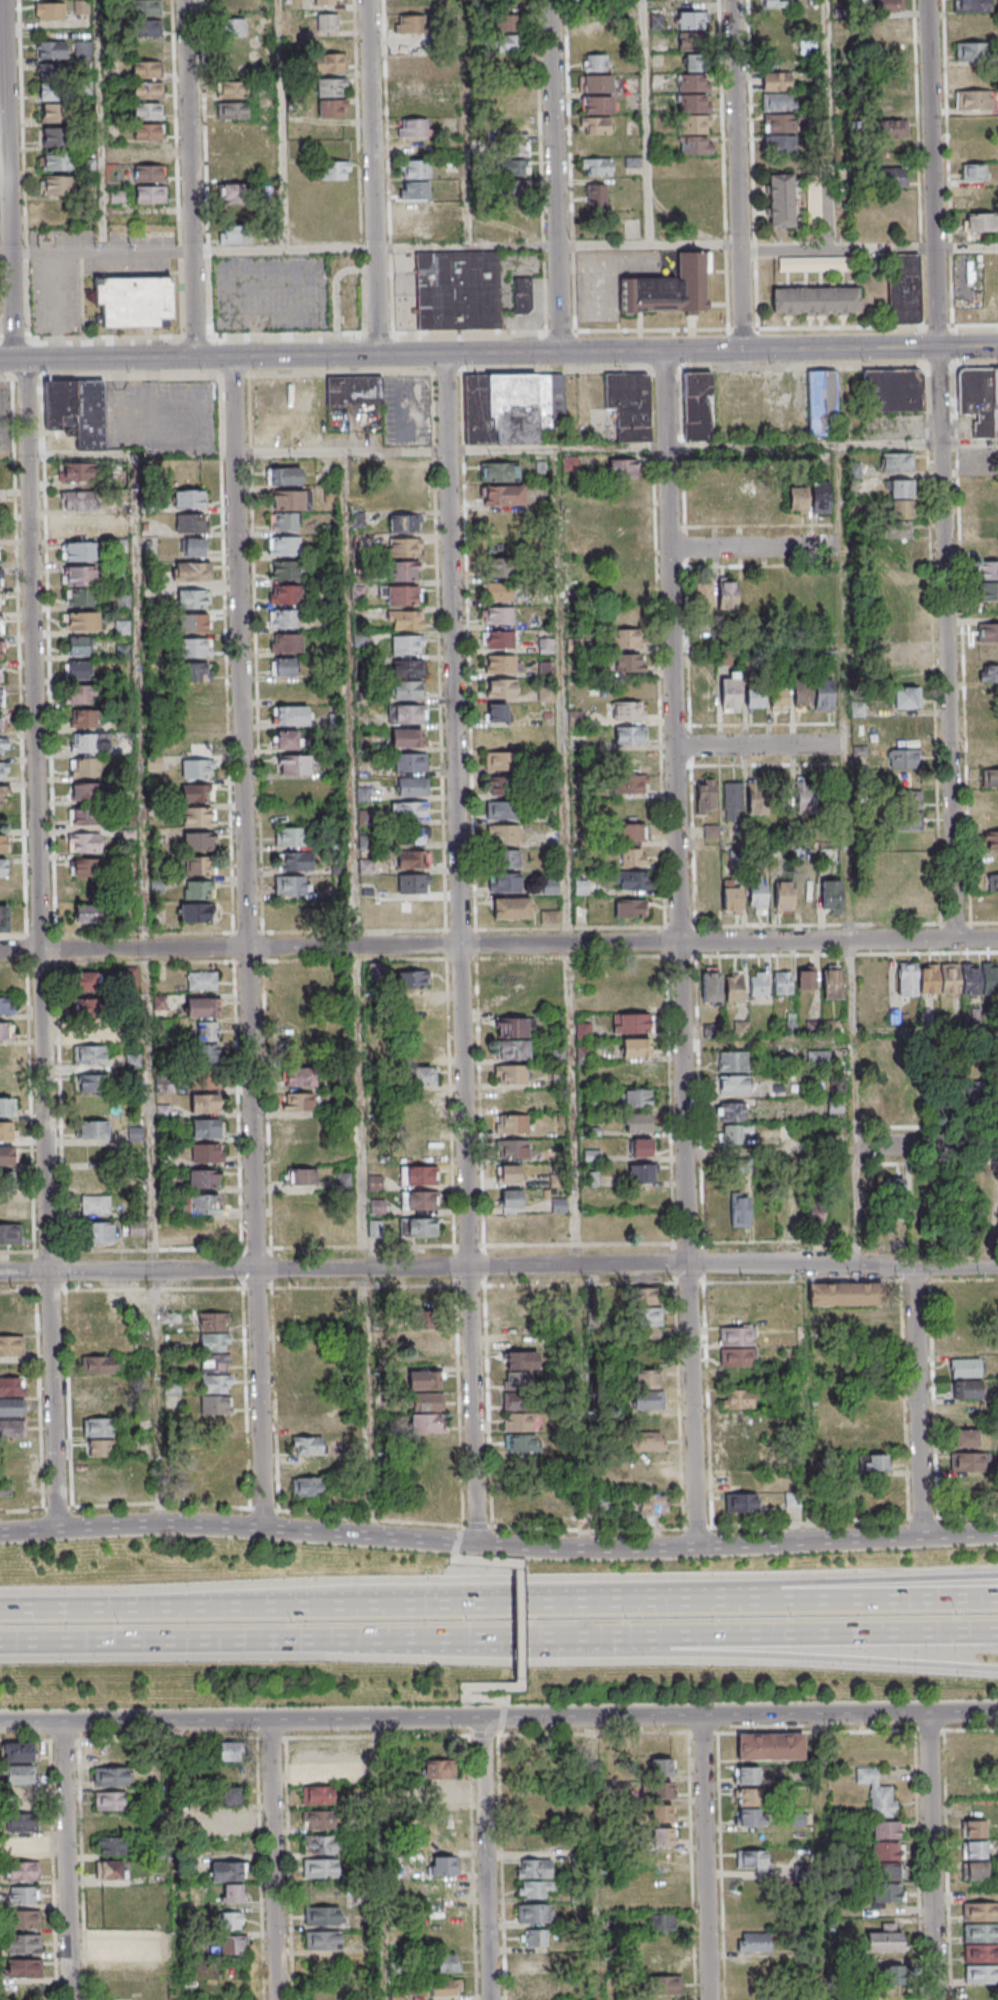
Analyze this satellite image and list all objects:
building: (326, 2)
building: (773, 4)
building: (888, 5)
building: (971, 5)
building: (81, 7)
building: (145, 7)
building: (54, 13)
building: (692, 20)
building: (327, 22)
building: (508, 22)
building: (410, 23)
building: (234, 27)
building: (145, 28)
building: (888, 29)
building: (592, 40)
building: (693, 41)
building: (507, 43)
building: (82, 49)
building: (50, 50)
building: (971, 51)
building: (887, 54)
building: (328, 62)
building: (595, 63)
building: (410, 66)
building: (51, 70)
building: (145, 70)
road: (831, 74)
building: (967, 74)
building: (776, 81)
building: (595, 83)
building: (696, 84)
building: (330, 87)
building: (146, 90)
building: (49, 91)
building: (232, 91)
building: (974, 99)
building: (778, 102)
building: (598, 105)
building: (407, 106)
building: (697, 106)
building: (331, 108)
building: (147, 110)
building: (53, 112)
building: (230, 113)
road: (648, 123)
building: (779, 123)
road: (473, 124)
building: (596, 124)
road: (286, 125)
road: (102, 126)
building: (413, 127)
building: (893, 129)
building: (148, 131)
building: (52, 136)
building: (779, 143)
building: (698, 147)
building: (515, 149)
building: (149, 152)
building: (56, 161)
road: (917, 165)
road: (946, 165)
building: (599, 166)
building: (511, 167)
building: (414, 169)
building: (335, 170)
building: (973, 171)
building: (149, 173)
road: (742, 175)
road: (554, 176)
building: (892, 176)
road: (377, 177)
road: (189, 179)
building: (57, 186)
building: (408, 191)
building: (515, 191)
building: (150, 194)
building: (234, 194)
building: (596, 196)
building: (978, 197)
building: (781, 200)
building: (813, 204)
building: (416, 211)
road: (937, 222)
building: (980, 222)
building: (415, 231)
building: (233, 235)
road: (968, 245)
road: (650, 246)
road: (798, 249)
road: (286, 250)
building: (670, 287)
building: (905, 288)
building: (460, 292)
building: (521, 296)
building: (133, 300)
building: (815, 300)
road: (56, 305)
road: (542, 336)
road: (43, 343)
road: (508, 353)
road: (9, 360)
building: (355, 390)
building: (893, 390)
building: (979, 399)
building: (821, 400)
building: (630, 405)
building: (698, 406)
building: (513, 407)
building: (76, 410)
road: (616, 449)
road: (80, 457)
building: (897, 461)
building: (622, 468)
building: (498, 471)
building: (77, 472)
building: (283, 477)
building: (502, 494)
building: (331, 495)
building: (820, 496)
building: (190, 498)
building: (797, 498)
building: (900, 499)
building: (290, 500)
building: (77, 501)
building: (622, 517)
building: (283, 522)
building: (191, 523)
building: (403, 523)
building: (78, 528)
building: (987, 528)
building: (901, 541)
building: (284, 545)
building: (193, 547)
building: (404, 547)
road: (757, 547)
building: (78, 553)
building: (624, 566)
building: (283, 570)
building: (988, 570)
building: (191, 571)
building: (403, 572)
building: (78, 577)
building: (0, 578)
building: (989, 591)
building: (498, 592)
building: (824, 593)
building: (285, 594)
building: (727, 594)
building: (897, 594)
building: (702, 595)
building: (751, 595)
building: (403, 596)
building: (78, 599)
building: (192, 599)
building: (497, 615)
building: (283, 618)
building: (407, 620)
building: (81, 622)
building: (328, 622)
building: (193, 623)
building: (1, 626)
building: (497, 639)
building: (628, 640)
building: (285, 643)
building: (407, 645)
building: (77, 647)
building: (194, 647)
building: (0, 650)
building: (988, 652)
building: (902, 654)
building: (629, 663)
building: (500, 664)
building: (283, 667)
building: (545, 668)
building: (409, 669)
building: (76, 671)
building: (193, 673)
building: (0, 675)
building: (500, 688)
building: (408, 690)
building: (289, 691)
road: (952, 692)
building: (545, 693)
building: (729, 693)
building: (802, 694)
building: (824, 694)
building: (81, 696)
building: (905, 697)
building: (1, 698)
building: (754, 698)
building: (778, 698)
building: (627, 711)
building: (495, 712)
building: (406, 714)
building: (289, 716)
building: (84, 720)
building: (1, 723)
building: (629, 735)
building: (405, 738)
building: (286, 741)
building: (89, 743)
road: (763, 745)
building: (3, 747)
building: (990, 757)
building: (904, 758)
building: (501, 760)
building: (409, 762)
road: (32, 764)
building: (294, 766)
building: (85, 767)
building: (197, 768)
building: (3, 771)
building: (990, 778)
building: (629, 784)
building: (502, 785)
building: (411, 786)
building: (86, 792)
building: (197, 792)
building: (2, 795)
building: (705, 796)
road: (848, 796)
building: (757, 797)
building: (811, 797)
building: (732, 800)
building: (630, 809)
building: (990, 809)
building: (410, 810)
building: (502, 810)
building: (905, 810)
building: (85, 816)
building: (198, 816)
building: (632, 832)
building: (503, 833)
building: (412, 835)
building: (289, 836)
building: (550, 837)
building: (198, 841)
building: (2, 843)
building: (84, 843)
building: (632, 857)
building: (411, 858)
building: (506, 859)
building: (296, 861)
building: (197, 864)
building: (2, 867)
building: (85, 867)
building: (632, 880)
building: (706, 880)
building: (504, 882)
building: (412, 883)
building: (291, 885)
building: (198, 889)
building: (82, 890)
building: (4, 892)
building: (992, 892)
building: (831, 895)
building: (732, 896)
building: (757, 897)
building: (783, 897)
building: (511, 908)
building: (631, 908)
building: (406, 909)
building: (196, 912)
building: (85, 913)
building: (550, 916)
building: (4, 919)
road: (840, 942)
road: (245, 943)
road: (341, 947)
road: (683, 948)
road: (459, 949)
building: (529, 972)
building: (129, 977)
building: (928, 978)
building: (950, 978)
building: (412, 979)
building: (805, 979)
building: (979, 979)
building: (201, 980)
building: (908, 980)
building: (83, 981)
building: (782, 982)
building: (758, 983)
building: (832, 983)
building: (711, 987)
building: (734, 987)
road: (150, 990)
road: (361, 995)
road: (574, 999)
building: (87, 1005)
building: (6, 1006)
building: (201, 1007)
building: (630, 1022)
building: (510, 1026)
building: (91, 1029)
building: (583, 1030)
building: (6, 1031)
building: (205, 1032)
building: (635, 1047)
building: (511, 1048)
building: (89, 1056)
building: (734, 1061)
building: (510, 1073)
building: (636, 1073)
building: (422, 1076)
building: (298, 1078)
building: (206, 1081)
building: (90, 1085)
building: (732, 1085)
building: (636, 1098)
building: (890, 1101)
building: (297, 1102)
building: (205, 1105)
building: (6, 1106)
building: (730, 1111)
building: (637, 1123)
building: (511, 1124)
building: (299, 1127)
building: (205, 1129)
building: (93, 1130)
building: (6, 1131)
building: (732, 1133)
road: (928, 1146)
building: (640, 1148)
building: (510, 1149)
building: (205, 1153)
building: (6, 1157)
building: (507, 1173)
building: (640, 1173)
building: (416, 1175)
building: (299, 1177)
building: (204, 1178)
building: (6, 1181)
building: (983, 1188)
building: (95, 1191)
building: (511, 1199)
building: (418, 1200)
building: (893, 1203)
building: (200, 1204)
building: (7, 1206)
building: (377, 1206)
road: (859, 1207)
building: (739, 1210)
building: (845, 1215)
building: (416, 1227)
building: (511, 1228)
building: (99, 1232)
building: (204, 1232)
building: (9, 1233)
road: (499, 1266)
building: (858, 1294)
building: (167, 1298)
building: (647, 1316)
building: (513, 1318)
building: (867, 1318)
building: (315, 1323)
building: (11, 1324)
building: (737, 1335)
building: (428, 1340)
building: (12, 1345)
building: (214, 1353)
building: (736, 1357)
building: (97, 1364)
building: (964, 1368)
building: (424, 1379)
building: (647, 1379)
building: (97, 1385)
building: (12, 1386)
building: (965, 1389)
building: (518, 1390)
building: (648, 1400)
road: (921, 1402)
building: (304, 1403)
road: (811, 1403)
building: (12, 1407)
building: (98, 1407)
building: (737, 1409)
building: (425, 1412)
building: (12, 1427)
building: (98, 1427)
building: (966, 1437)
building: (647, 1441)
building: (521, 1443)
building: (306, 1445)
building: (98, 1448)
building: (741, 1460)
building: (966, 1461)
building: (875, 1462)
building: (305, 1465)
building: (13, 1469)
building: (306, 1487)
building: (5, 1489)
building: (740, 1502)
building: (652, 1503)
road: (228, 1526)
road: (459, 1534)
road: (727, 1544)
road: (455, 1549)
road: (881, 1583)
road: (882, 1603)
road: (670, 1606)
road: (287, 1610)
road: (830, 1638)
road: (536, 1641)
road: (518, 1642)
road: (205, 1644)
road: (830, 1658)
road: (502, 1708)
road: (749, 1715)
road: (250, 1720)
road: (502, 1727)
building: (979, 1744)
building: (770, 1746)
building: (17, 1752)
building: (110, 1752)
building: (226, 1763)
building: (661, 1767)
building: (438, 1769)
building: (312, 1770)
building: (745, 1775)
building: (19, 1776)
building: (110, 1776)
building: (972, 1787)
building: (659, 1791)
building: (876, 1793)
building: (439, 1794)
building: (229, 1795)
building: (316, 1795)
building: (20, 1798)
building: (109, 1800)
building: (753, 1811)
building: (661, 1813)
building: (317, 1819)
building: (227, 1821)
building: (22, 1823)
building: (973, 1829)
building: (662, 1837)
building: (885, 1840)
building: (319, 1844)
building: (110, 1845)
building: (23, 1847)
building: (975, 1849)
road: (934, 1856)
road: (823, 1857)
road: (709, 1858)
road: (487, 1859)
building: (751, 1859)
road: (275, 1860)
road: (71, 1861)
building: (441, 1866)
building: (319, 1868)
building: (534, 1868)
building: (110, 1869)
building: (226, 1870)
building: (975, 1870)
building: (23, 1871)
building: (536, 1889)
building: (232, 1893)
building: (887, 1893)
building: (24, 1895)
building: (980, 1911)
building: (533, 1913)
building: (321, 1915)
building: (26, 1919)
building: (231, 1921)
building: (662, 1922)
building: (980, 1933)
road: (385, 1938)
building: (536, 1938)
building: (884, 1938)
building: (322, 1940)
building: (753, 1942)
building: (24, 1944)
building: (230, 1945)
building: (110, 1947)
building: (980, 1953)
building: (532, 1962)
building: (447, 1963)
building: (24, 1968)
building: (891, 1974)
building: (981, 1974)
building: (665, 1985)
building: (533, 1987)
building: (445, 1988)

